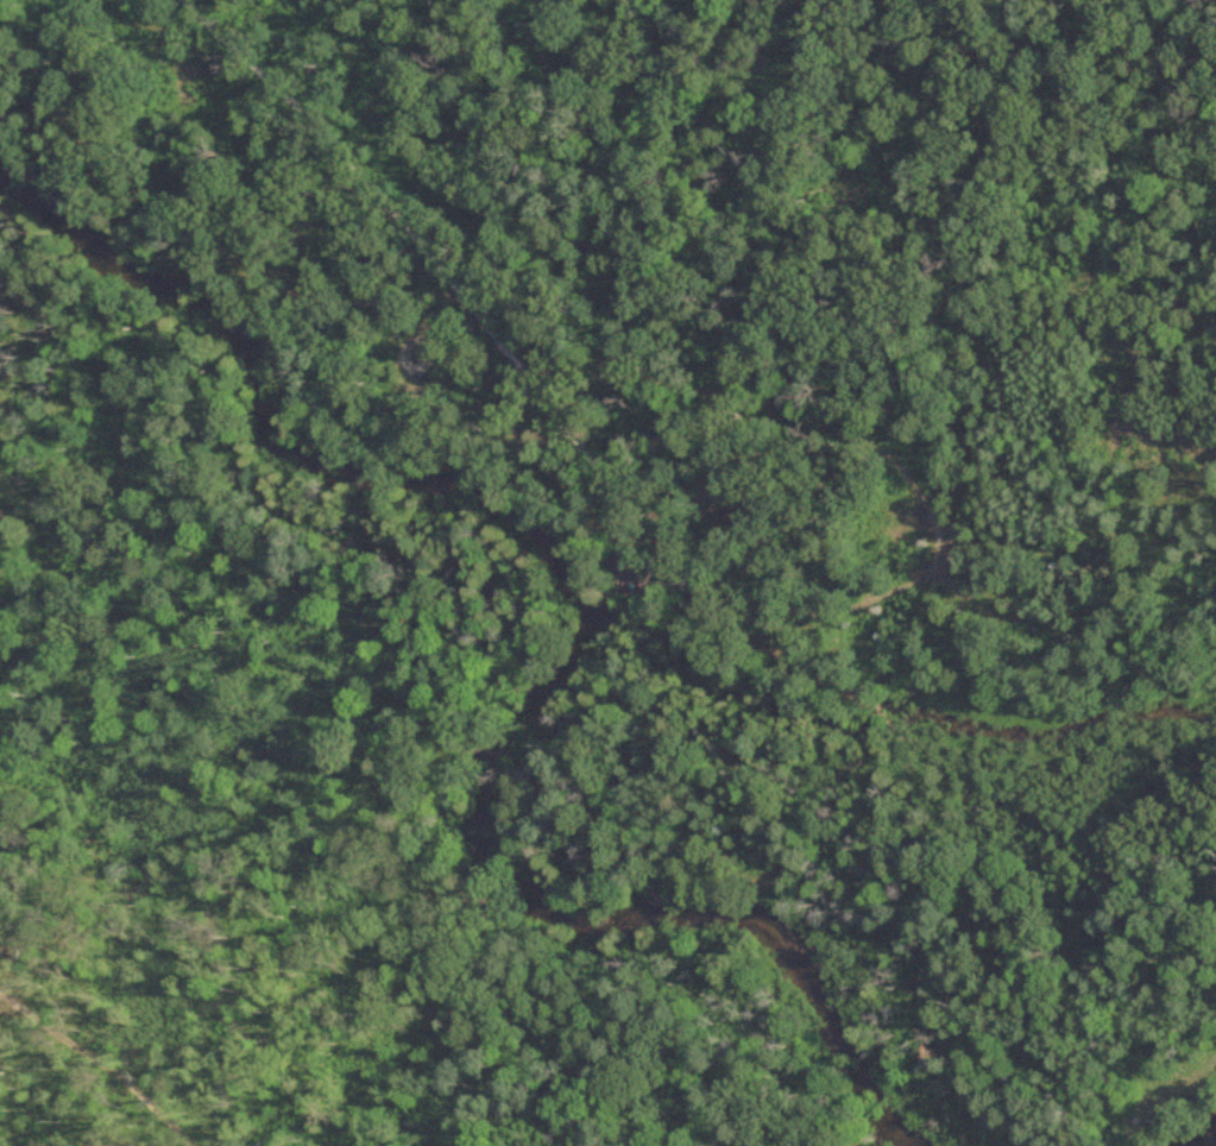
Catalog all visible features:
river: (586, 630)
river: (1198, 1123)

